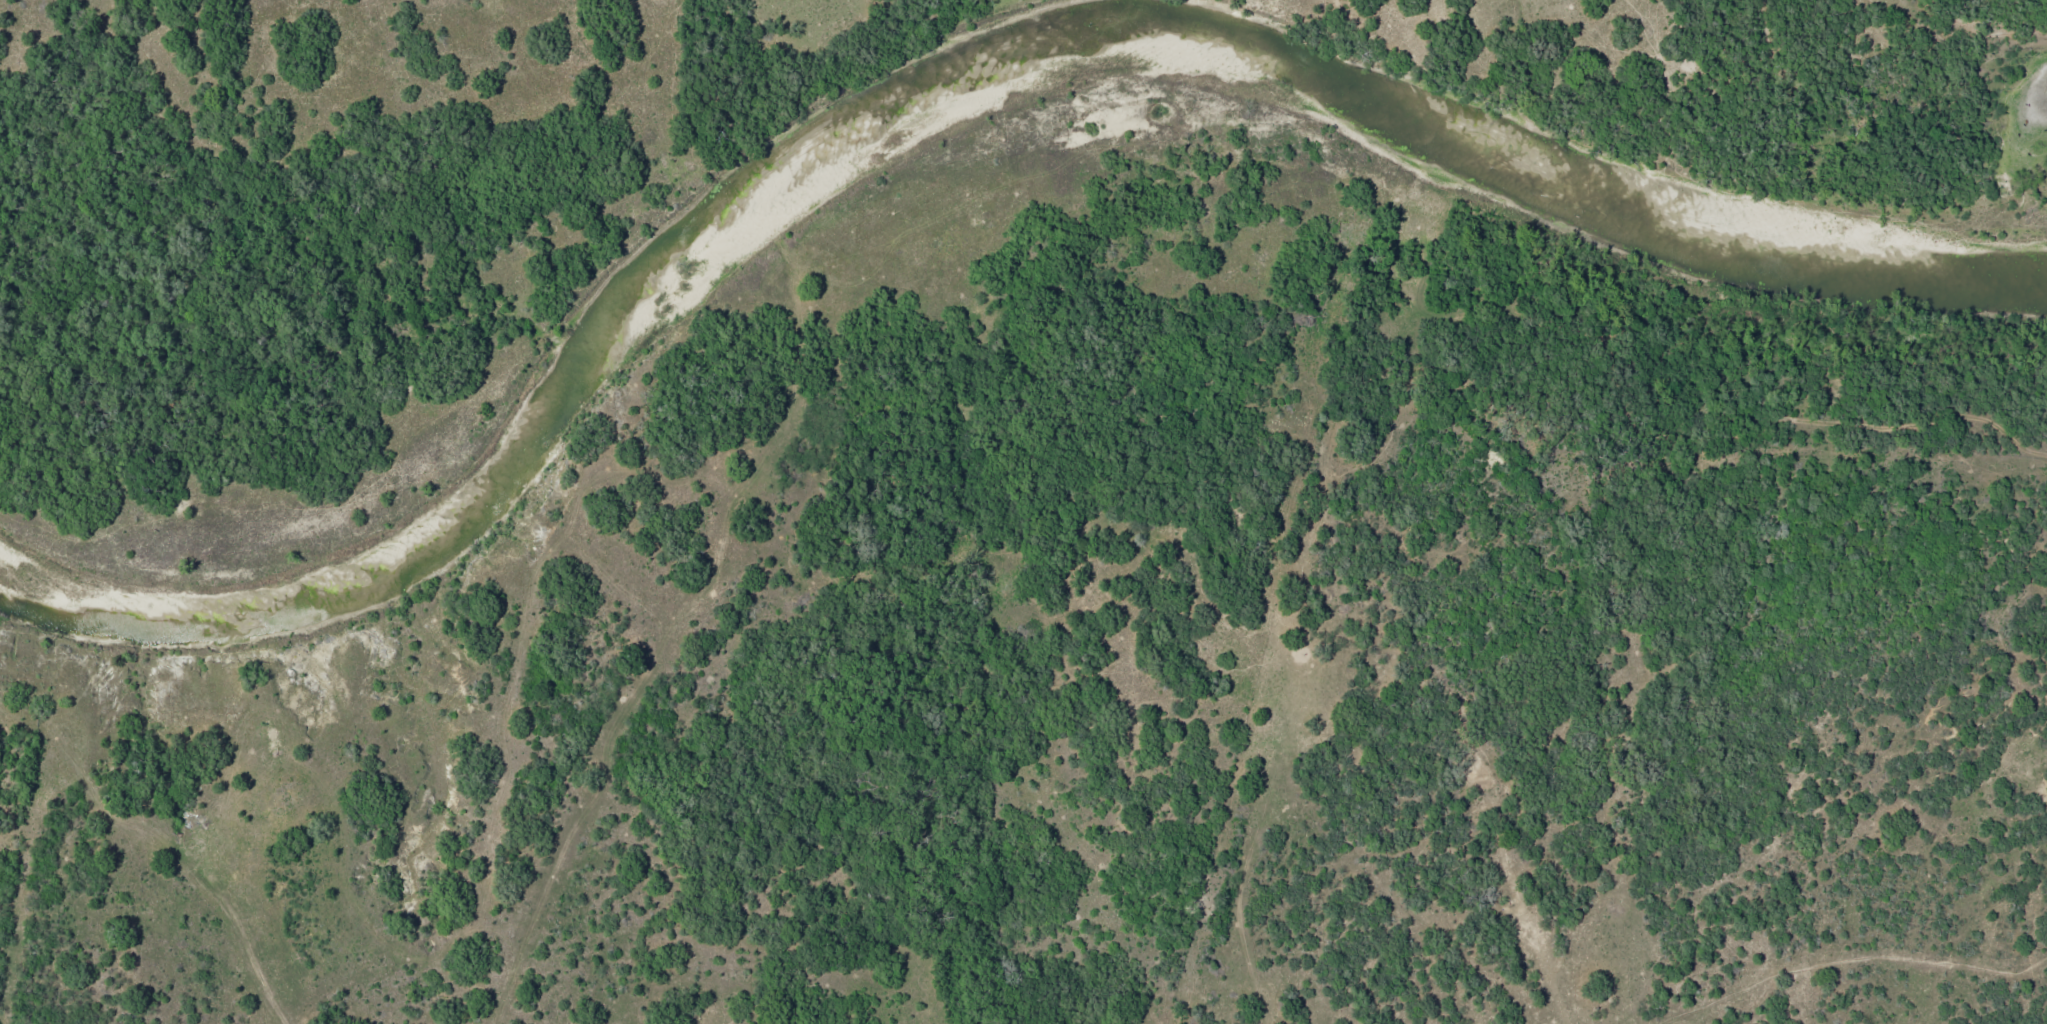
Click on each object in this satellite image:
road: (1961, 31)

